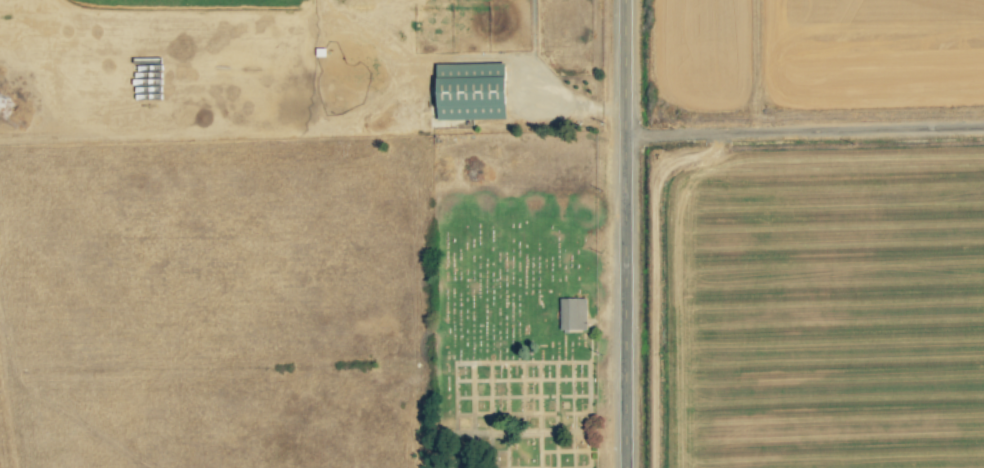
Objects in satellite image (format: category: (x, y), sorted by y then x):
building: (471, 92)
road: (805, 127)
road: (627, 233)
park: (514, 300)
building: (572, 313)

